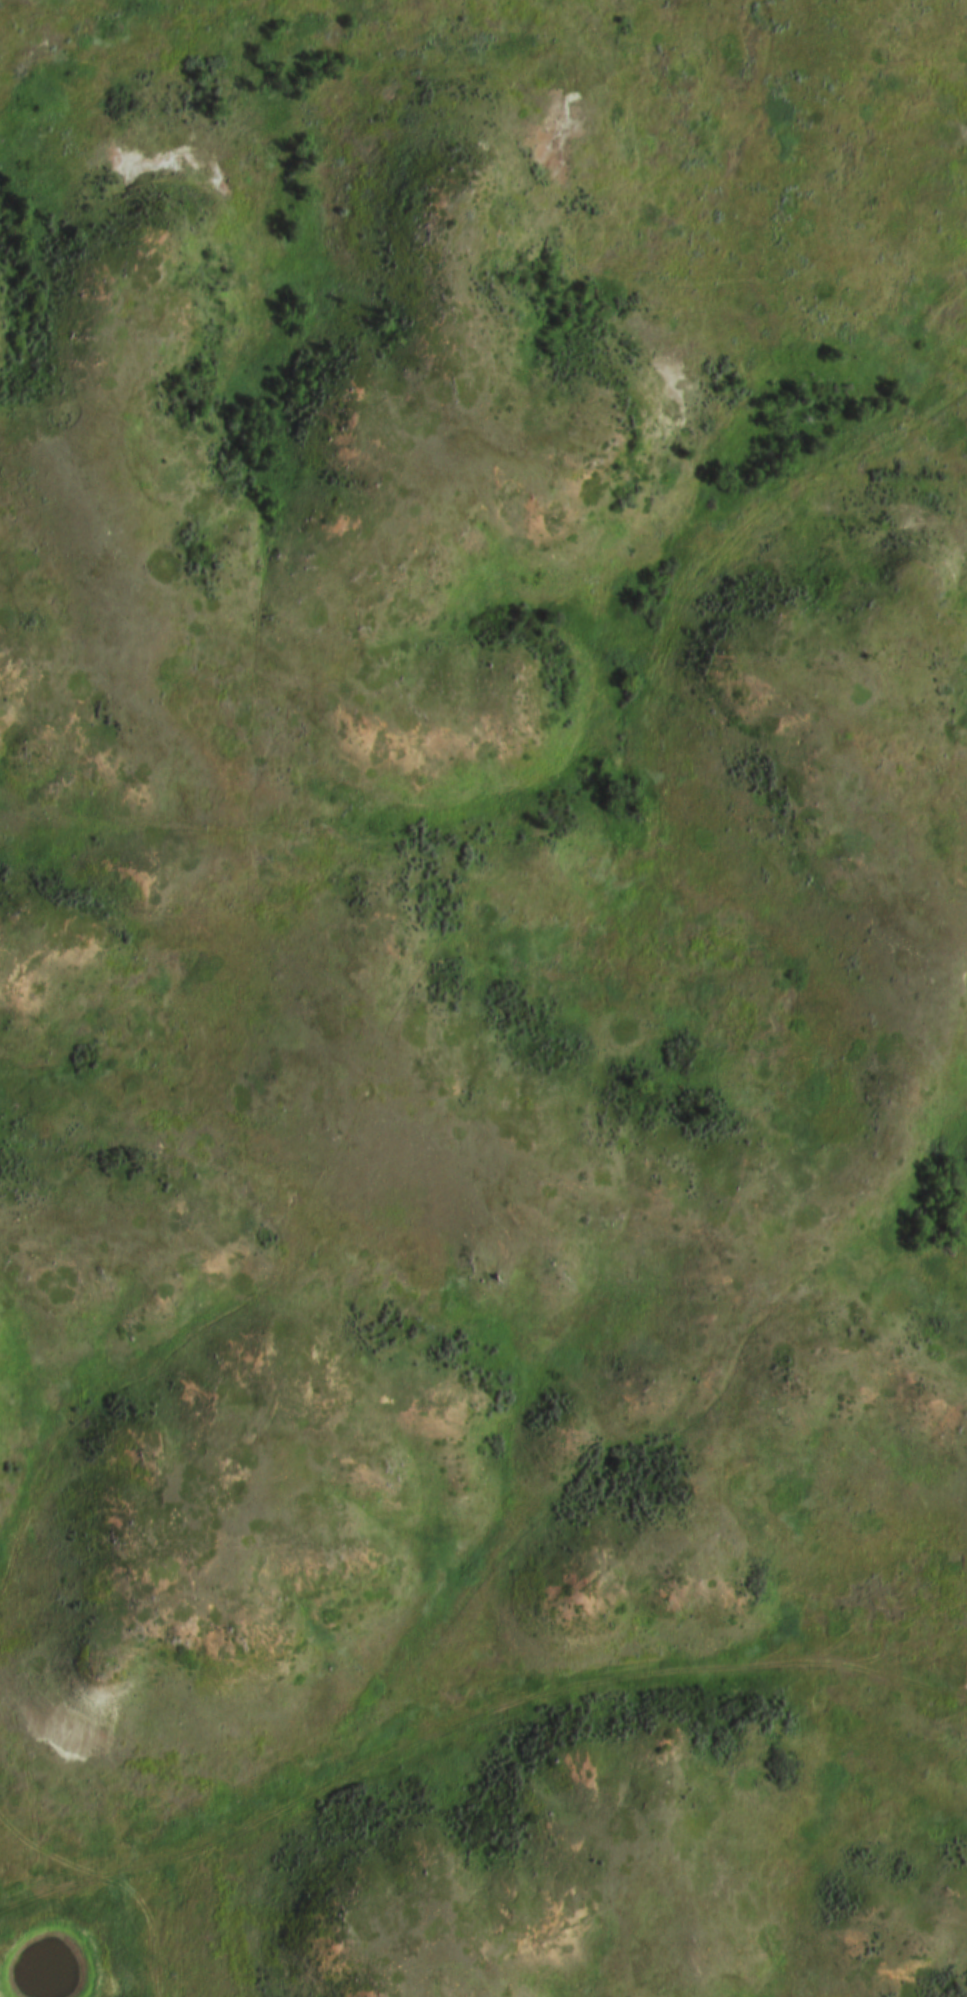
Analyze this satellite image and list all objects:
road: (28, 1907)

